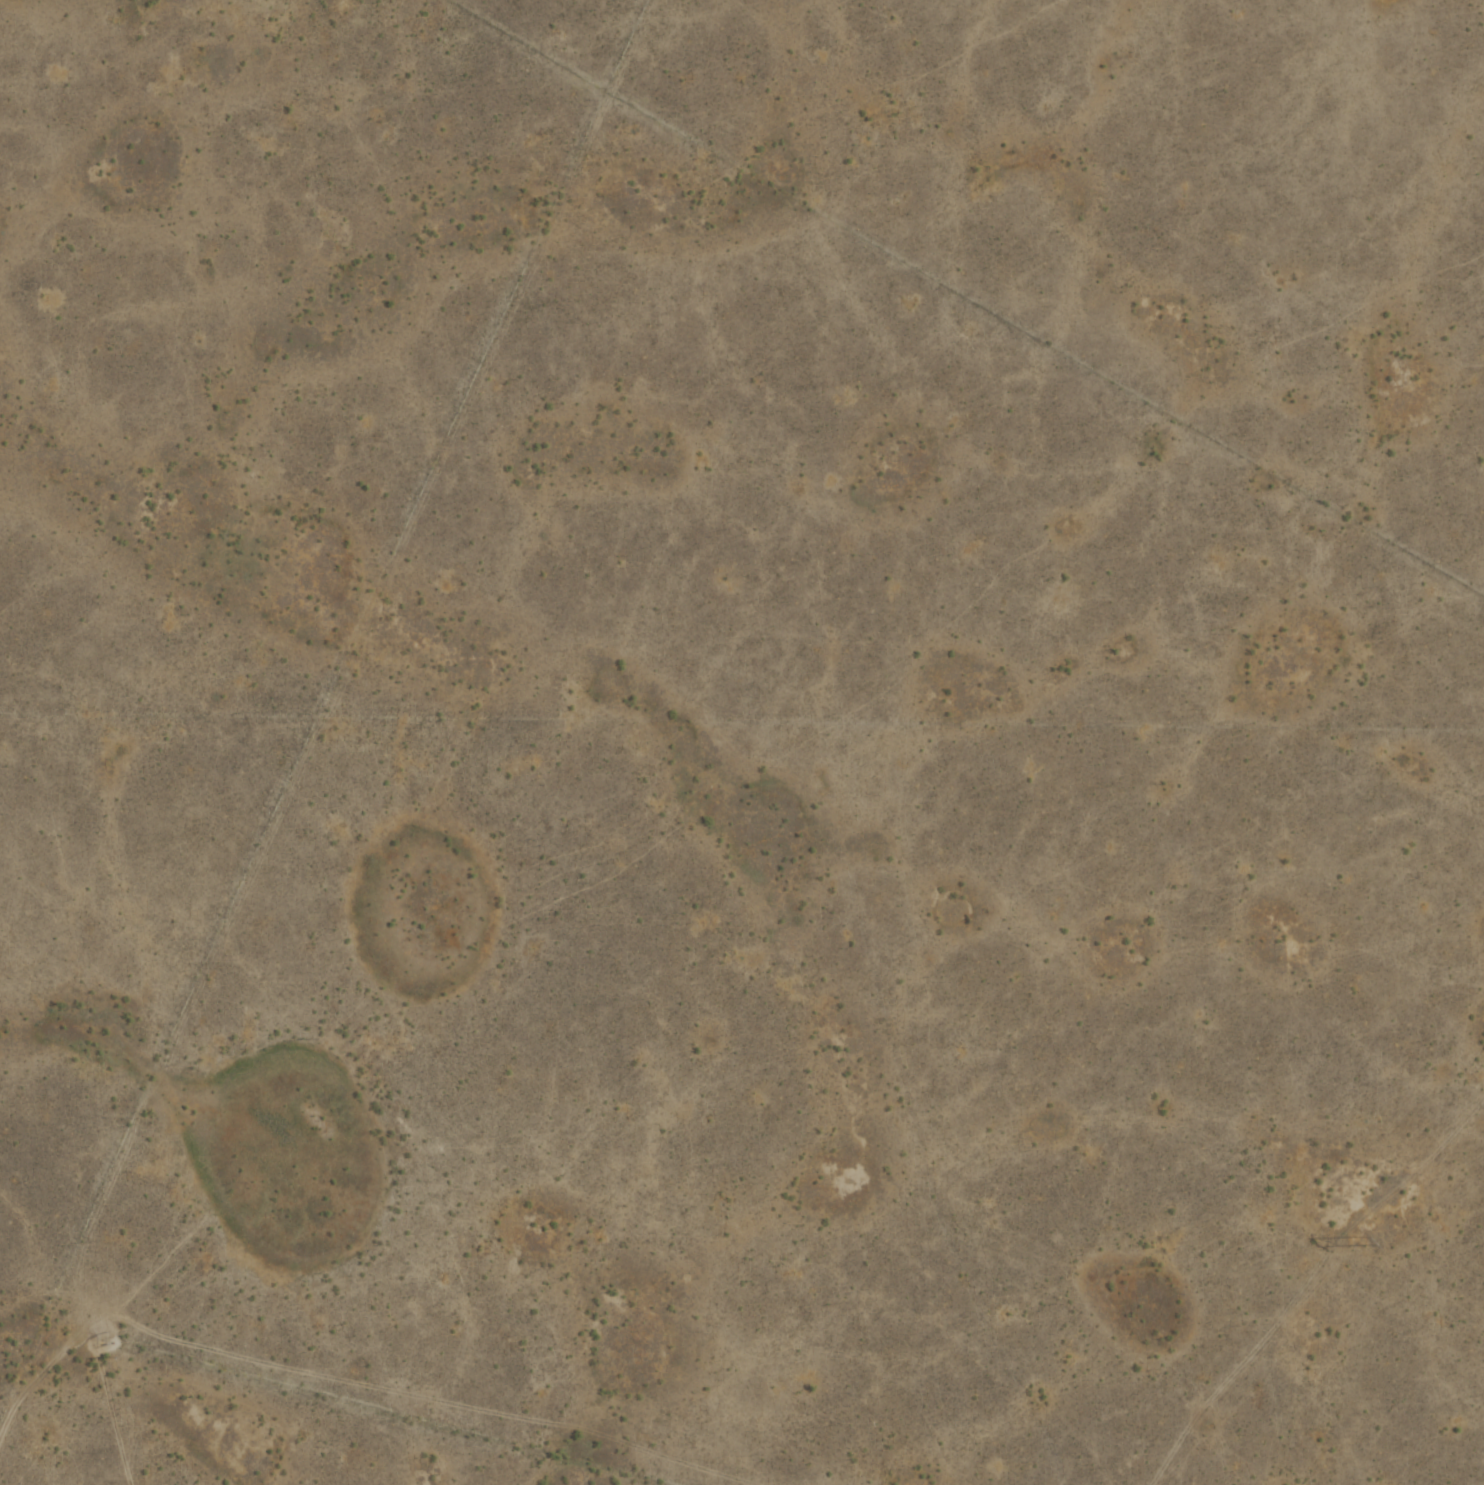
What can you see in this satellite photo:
power tower: (1359, 1244)
road: (274, 1376)

